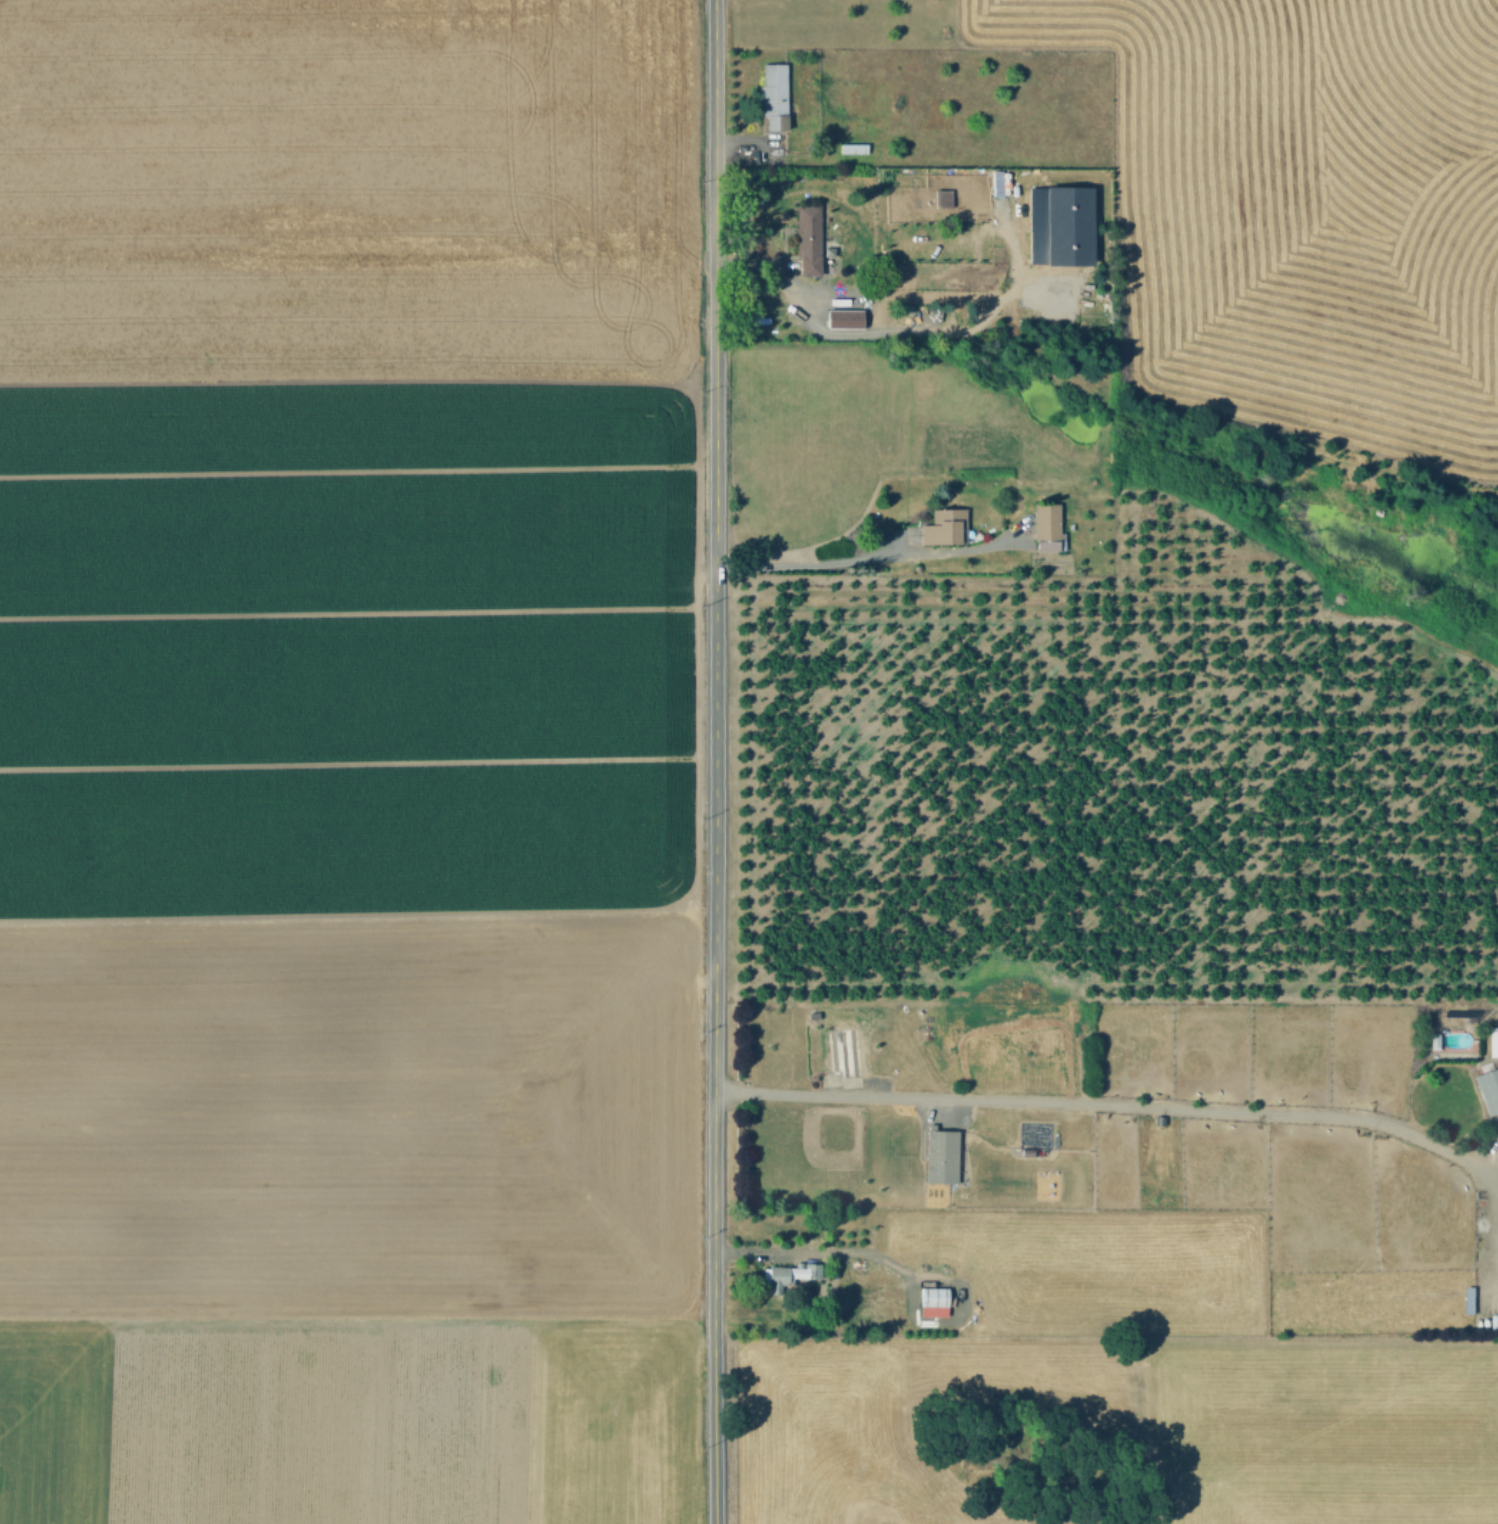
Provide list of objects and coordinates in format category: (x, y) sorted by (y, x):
building: (774, 94)
building: (856, 148)
building: (944, 199)
crop: (1307, 207)
building: (810, 240)
road: (776, 273)
building: (846, 319)
building: (1049, 527)
building: (946, 528)
road: (869, 554)
road: (716, 762)
building: (813, 1018)
building: (1492, 1040)
building: (1432, 1041)
building: (845, 1054)
building: (1488, 1089)
road: (1111, 1102)
building: (939, 1154)
road: (1493, 1232)
road: (827, 1252)
building: (791, 1274)
building: (938, 1296)
building: (1467, 1303)
road: (1106, 1341)

